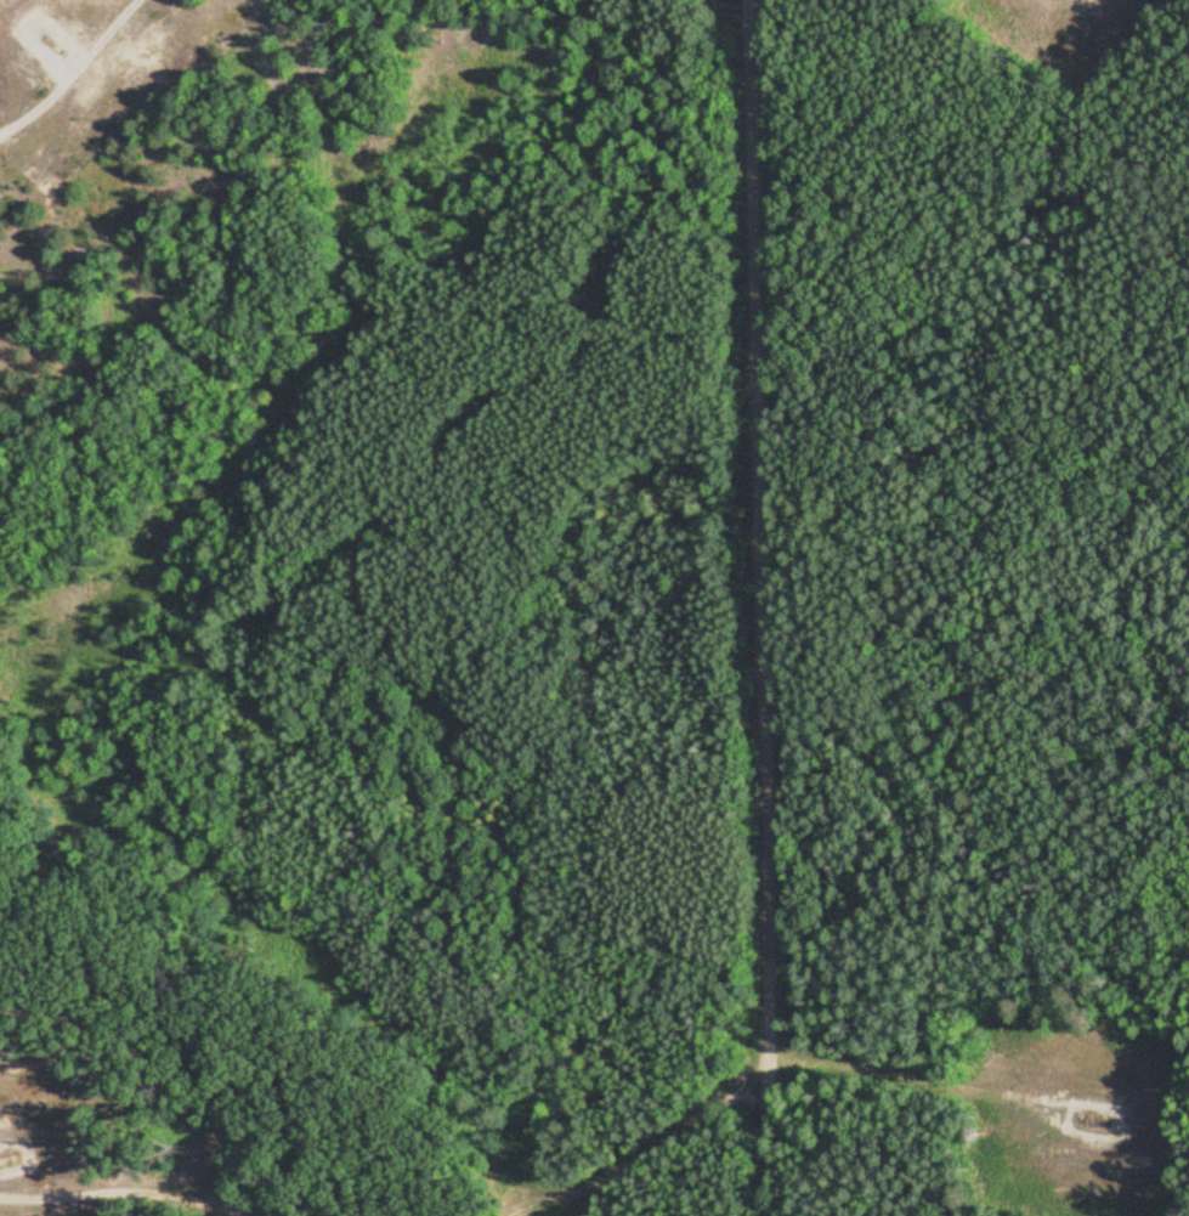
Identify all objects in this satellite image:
petroleum well: (47, 38)
road: (89, 81)
road: (761, 607)
road: (741, 1074)
petroleum well: (1099, 1124)
road: (119, 1198)

